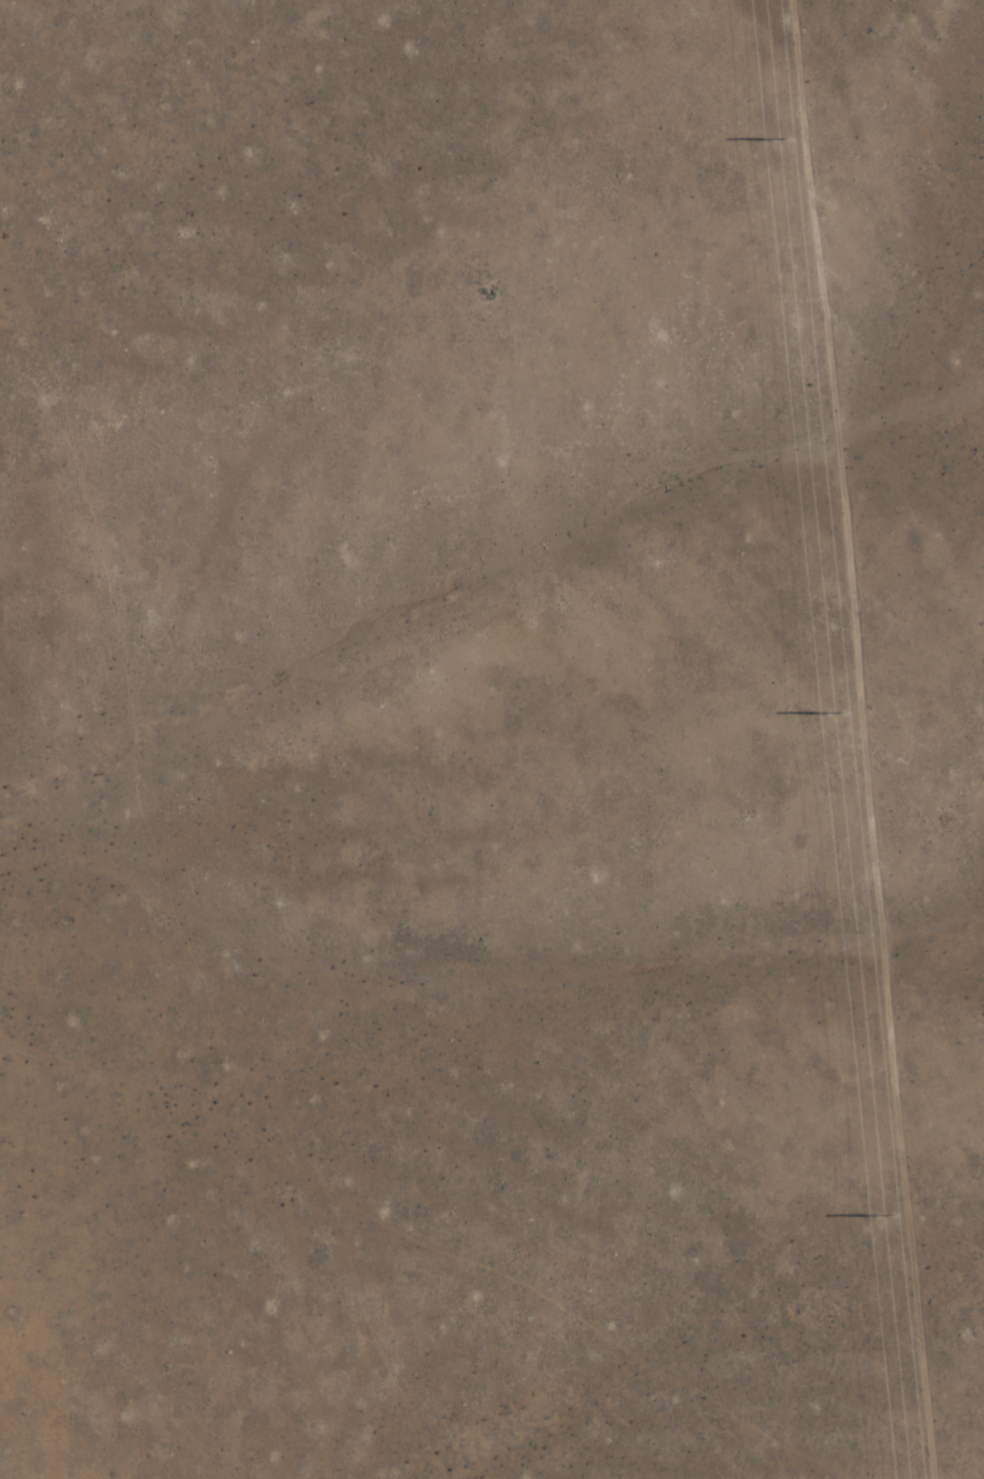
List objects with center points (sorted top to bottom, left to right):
power tower: (783, 137)
power tower: (842, 713)
road: (849, 739)
power tower: (885, 1218)

